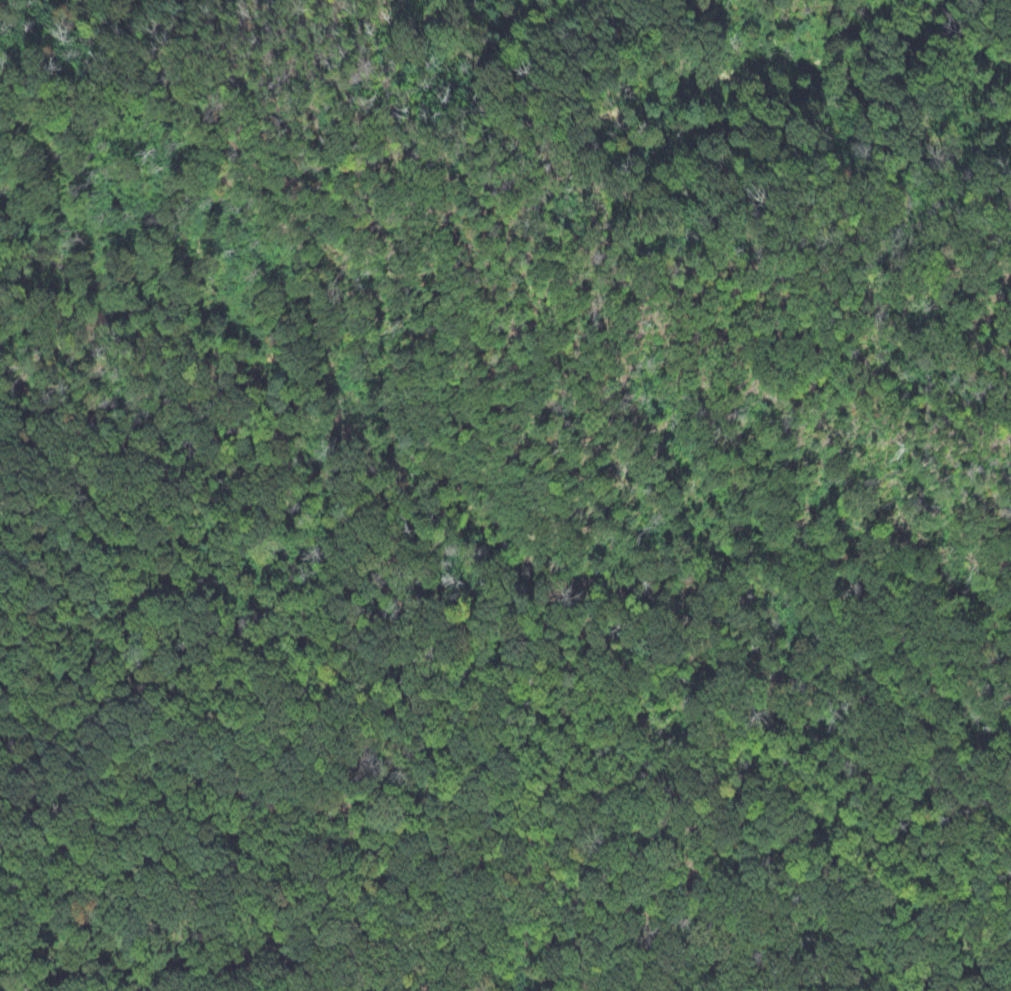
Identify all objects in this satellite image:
road: (557, 188)
park: (505, 495)
road: (451, 622)

